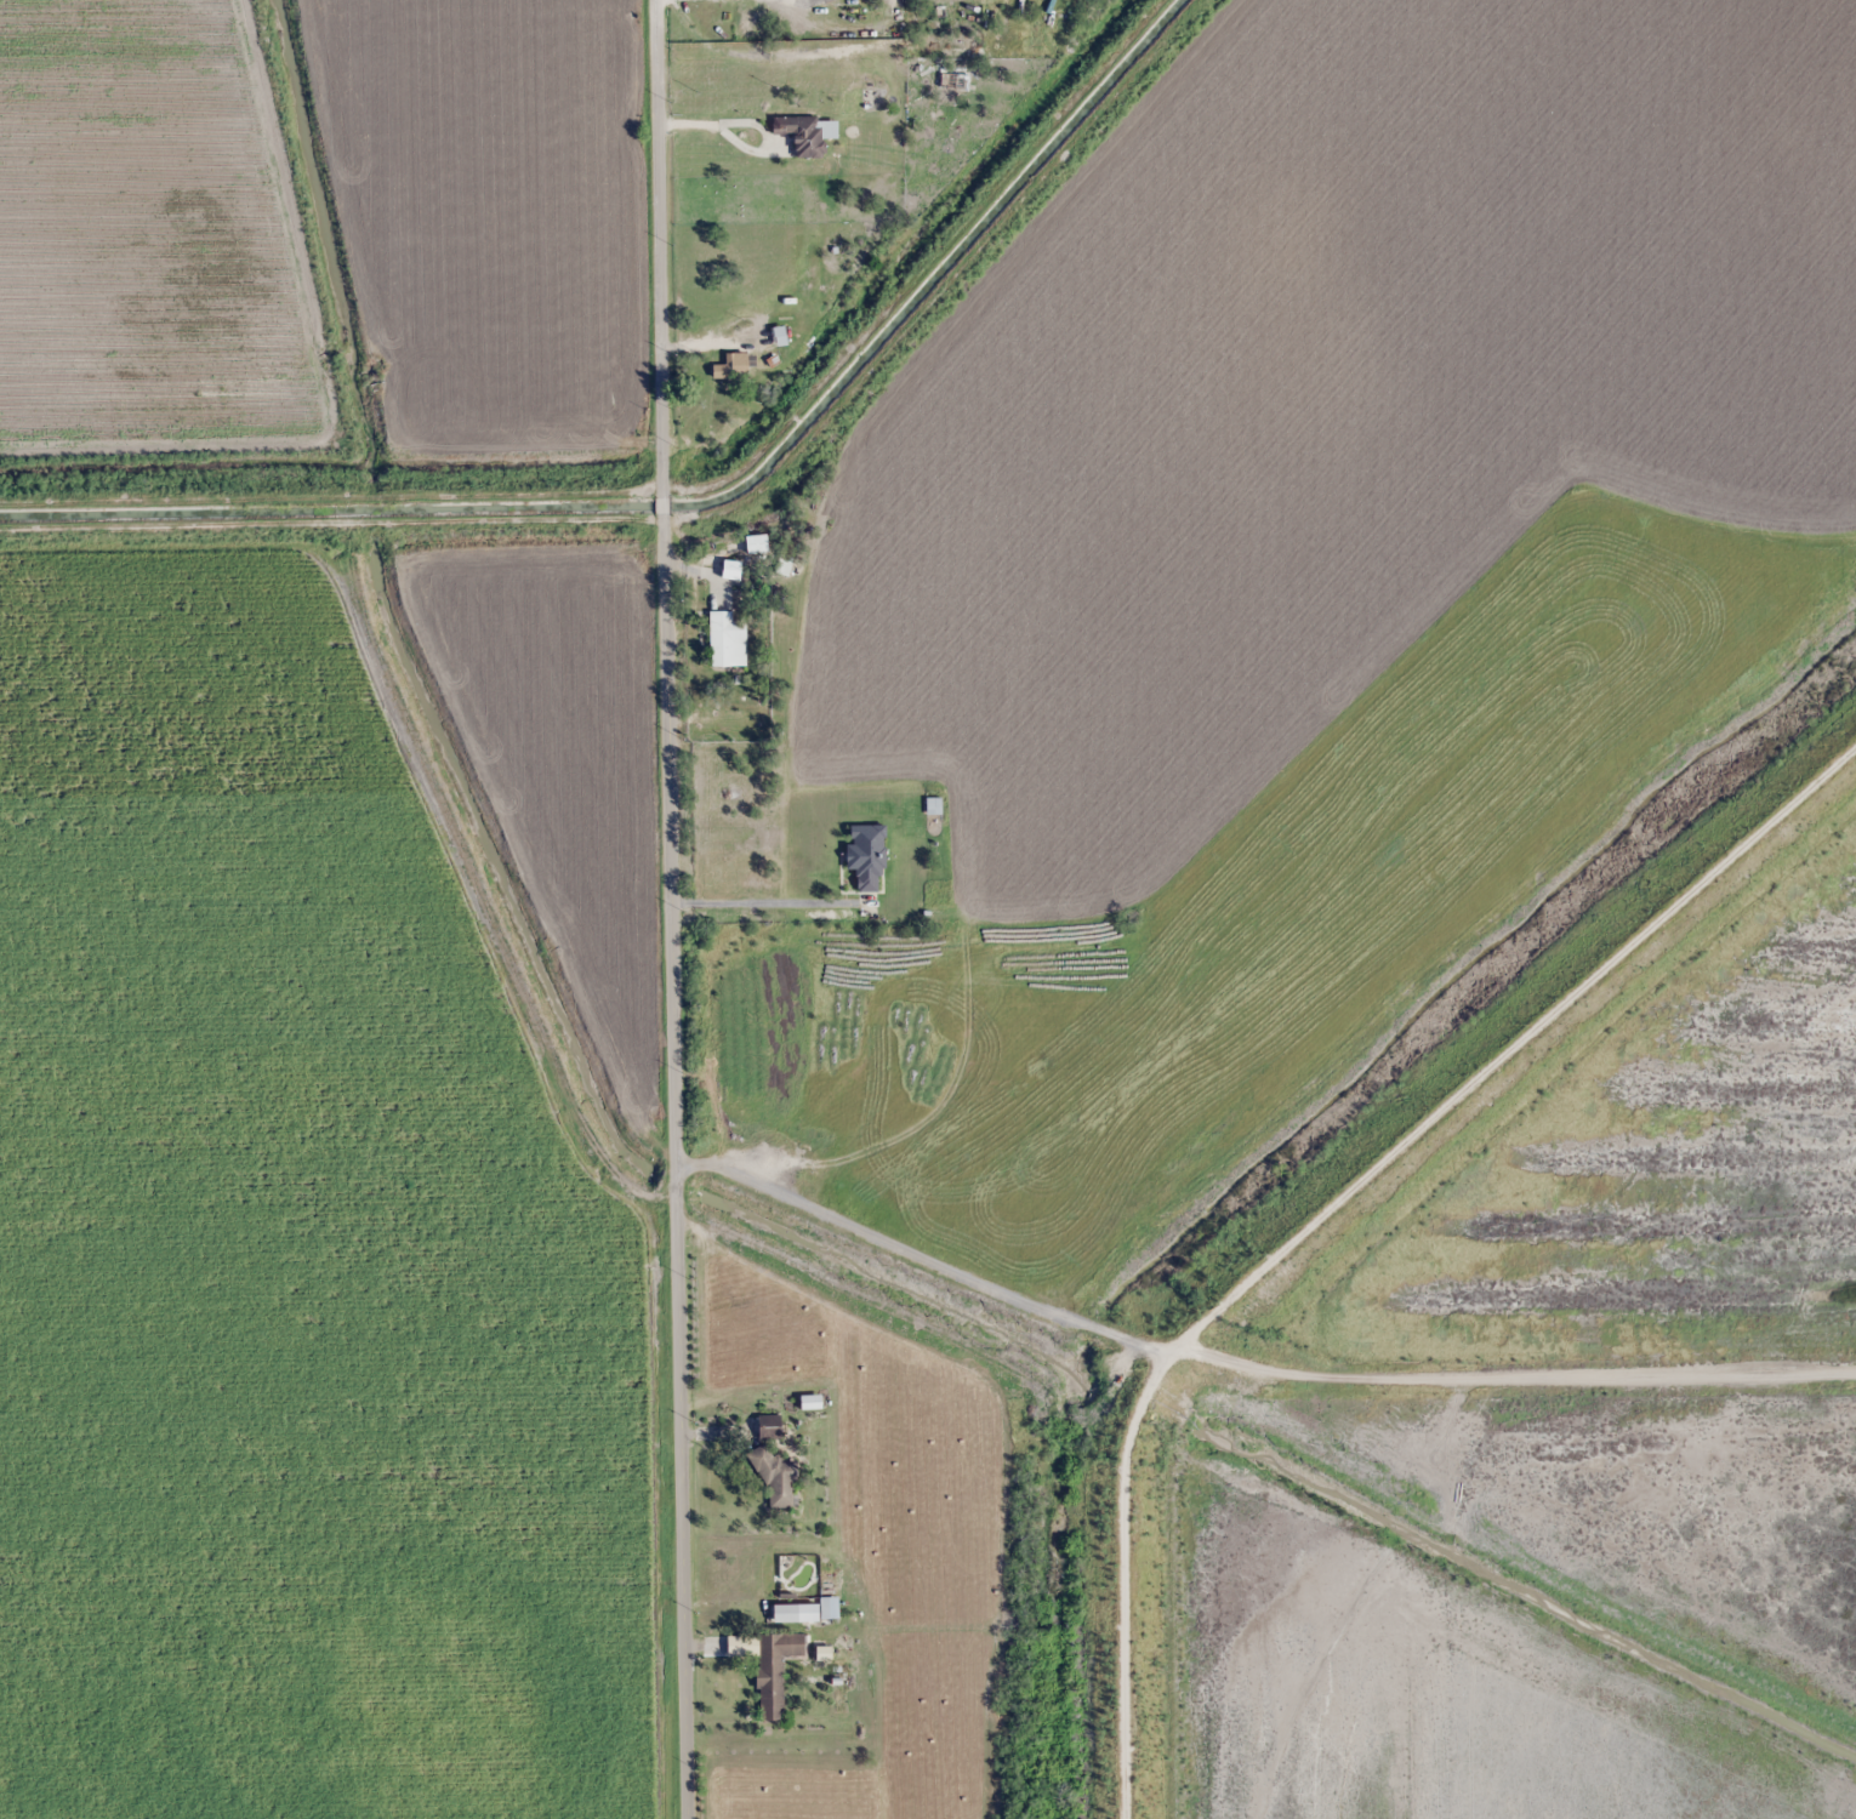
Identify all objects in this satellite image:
building: (859, 11)
building: (808, 133)
road: (657, 249)
building: (1846, 326)
building: (780, 336)
building: (735, 366)
road: (662, 504)
building: (757, 544)
building: (727, 640)
building: (731, 715)
building: (866, 856)
road: (676, 1165)
road: (1350, 1207)
road: (963, 1247)
road: (1550, 1352)
building: (770, 1426)
building: (775, 1477)
building: (786, 1613)
building: (775, 1670)

